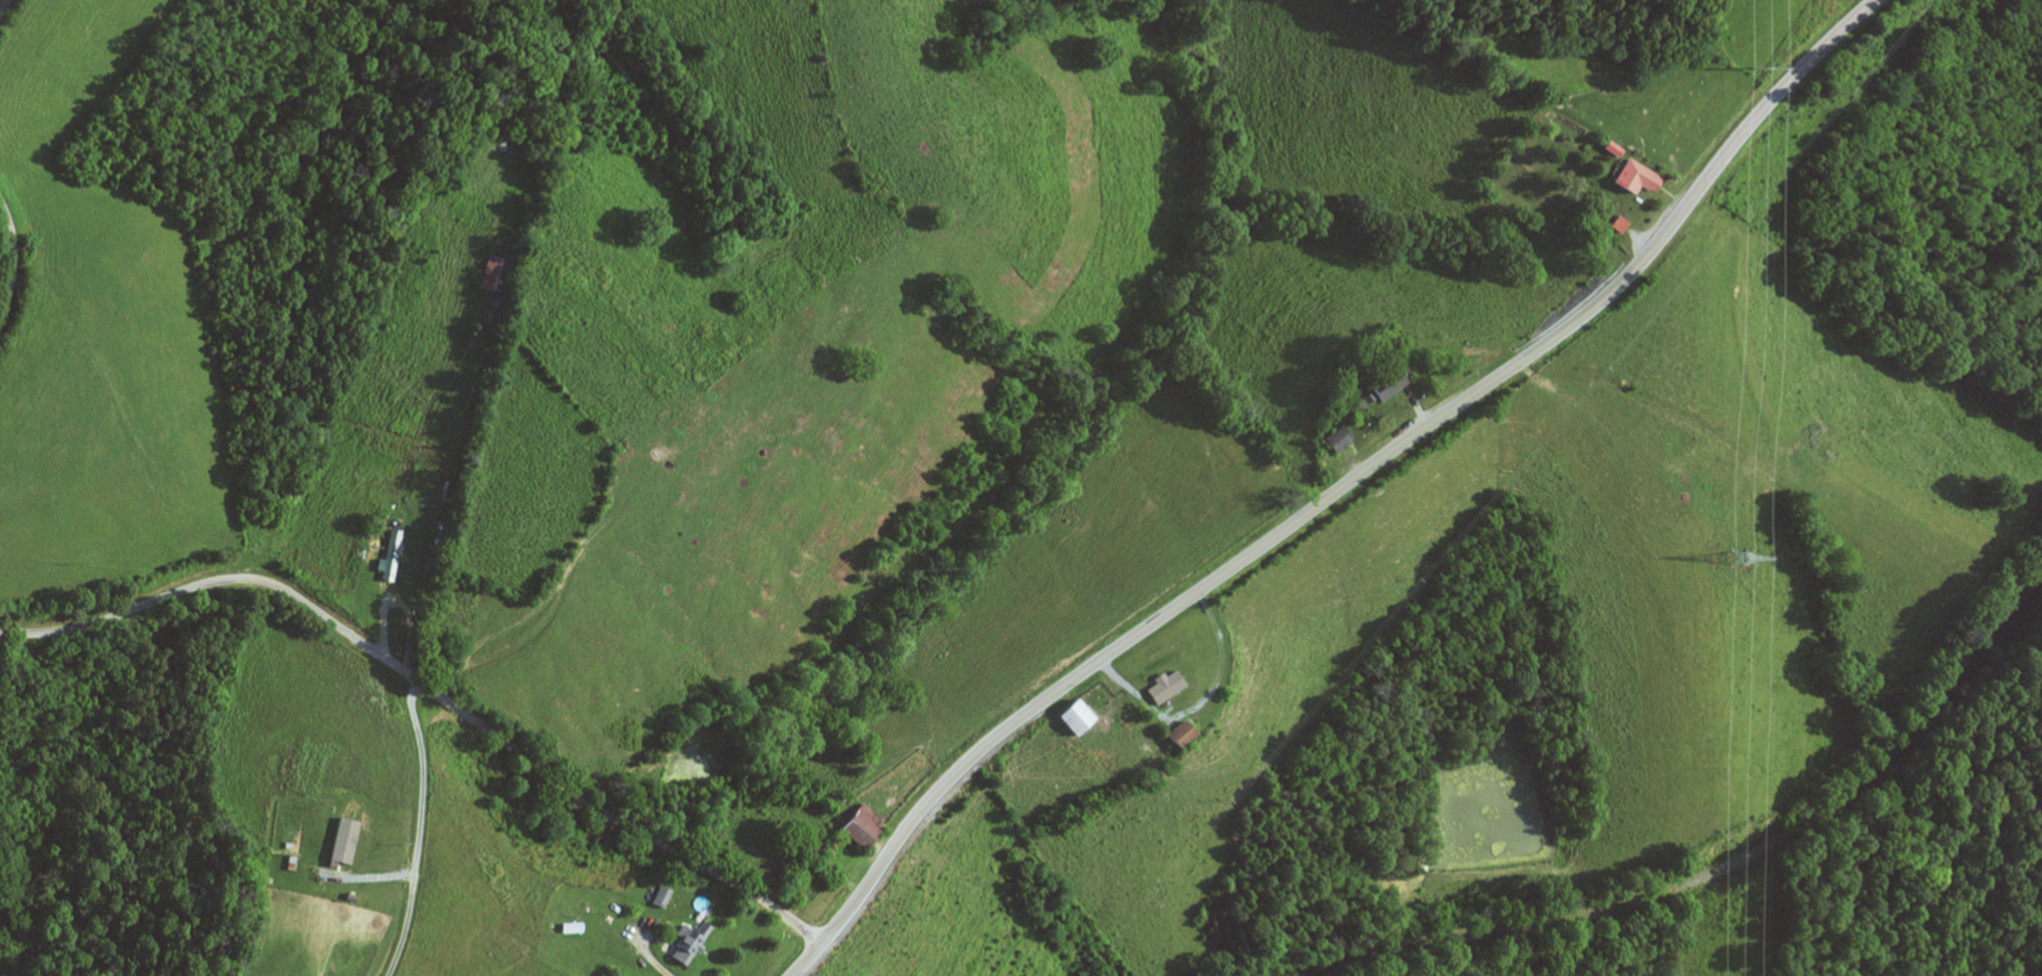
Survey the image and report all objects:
building: (1639, 178)
building: (497, 274)
building: (1393, 388)
building: (1341, 440)
road: (1337, 492)
building: (393, 559)
power tower: (1745, 559)
building: (1167, 687)
road: (429, 688)
building: (1079, 716)
building: (1184, 732)
building: (862, 827)
railway: (1695, 873)
building: (690, 942)

